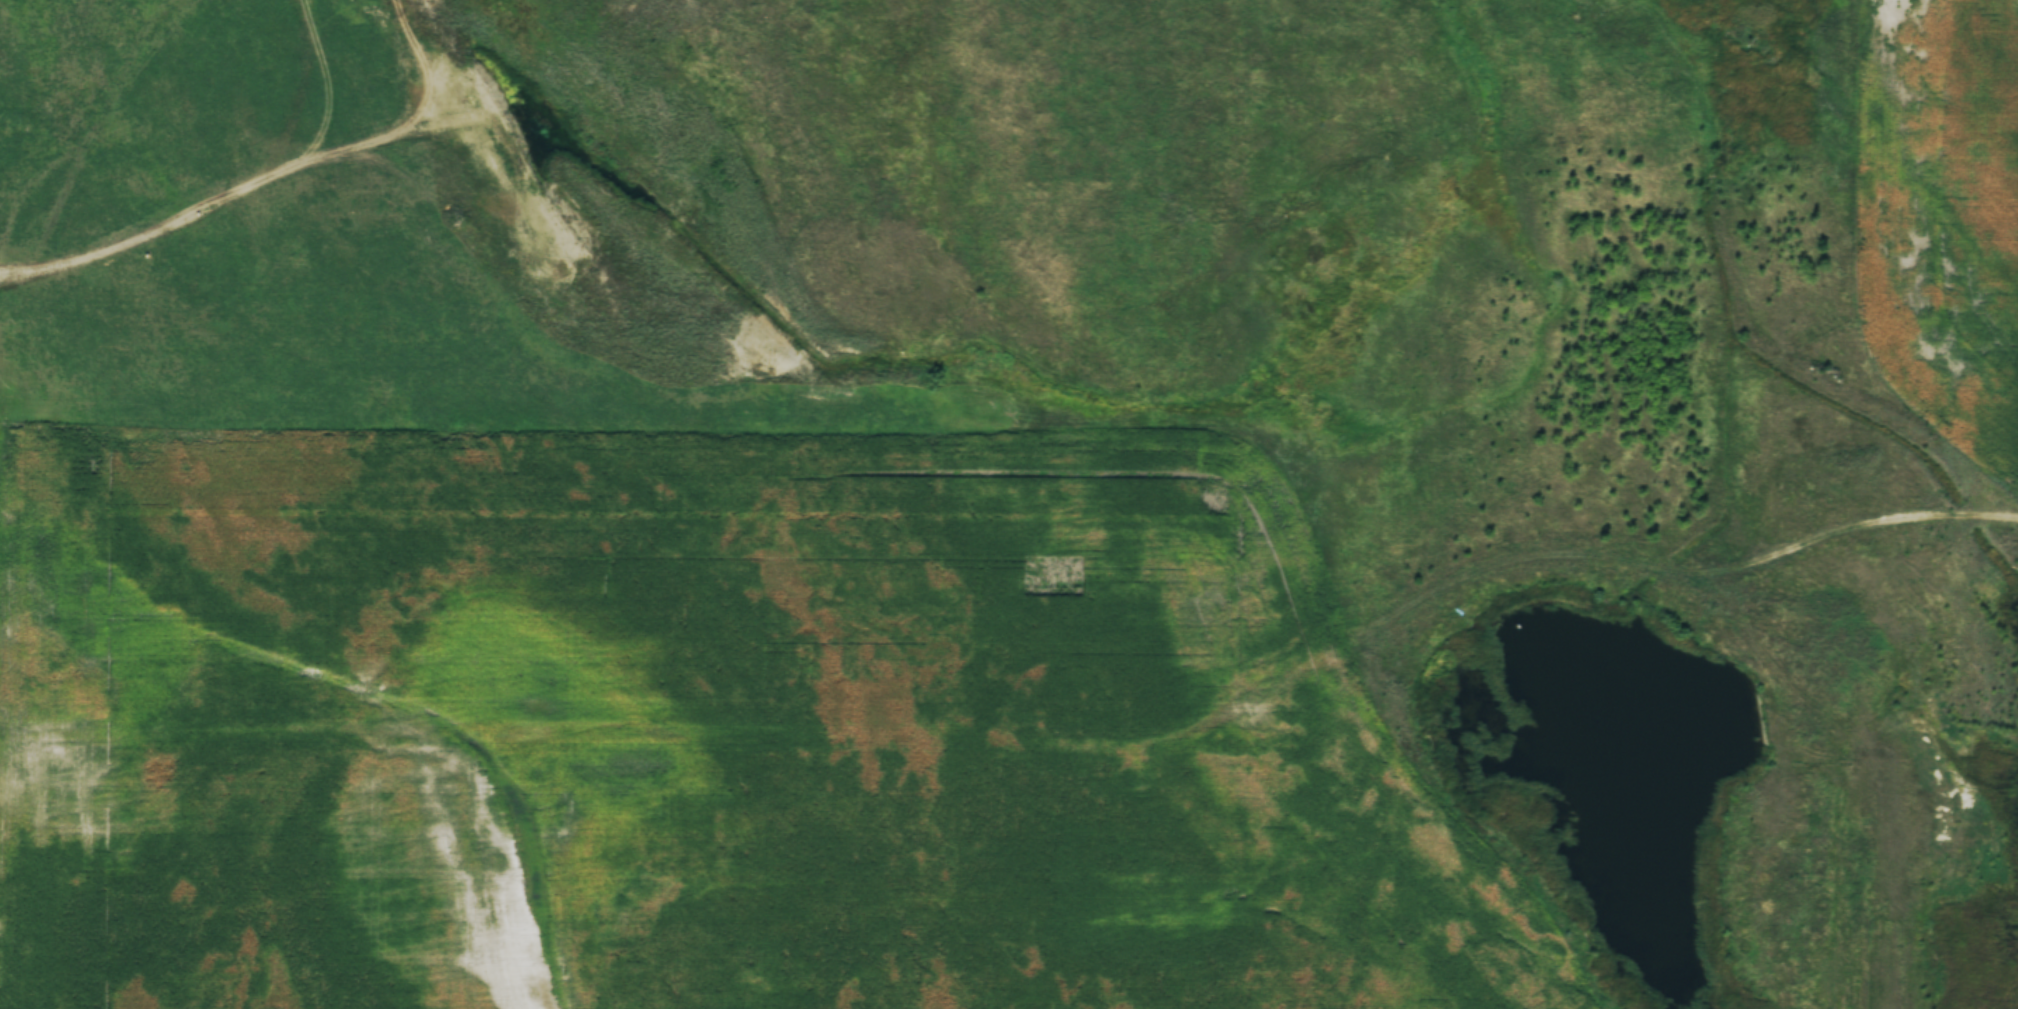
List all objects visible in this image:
road: (95, 135)

